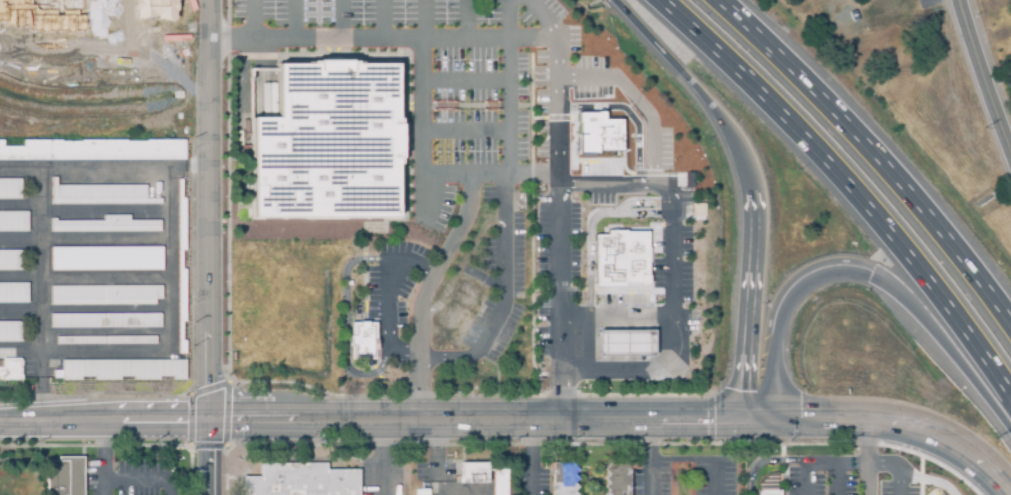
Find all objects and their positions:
road: (817, 2)
building: (154, 8)
building: (43, 14)
road: (249, 21)
road: (287, 21)
road: (340, 21)
road: (384, 22)
road: (422, 22)
road: (465, 22)
road: (511, 22)
road: (515, 43)
road: (405, 44)
road: (985, 74)
road: (468, 83)
road: (701, 90)
road: (636, 102)
road: (511, 107)
road: (466, 130)
building: (596, 132)
building: (325, 144)
parking lot: (518, 148)
building: (94, 151)
road: (876, 151)
road: (847, 186)
building: (11, 189)
building: (101, 195)
road: (83, 208)
building: (698, 209)
building: (14, 222)
building: (107, 226)
road: (557, 231)
road: (83, 239)
road: (166, 239)
road: (214, 247)
road: (672, 253)
building: (619, 256)
building: (110, 260)
building: (11, 261)
road: (806, 276)
road: (83, 278)
road: (505, 278)
road: (427, 291)
building: (14, 294)
road: (385, 294)
building: (106, 295)
road: (754, 309)
road: (82, 310)
building: (107, 321)
road: (345, 323)
building: (11, 332)
road: (948, 337)
building: (361, 340)
building: (107, 341)
building: (628, 343)
road: (19, 351)
building: (123, 370)
building: (11, 371)
road: (643, 374)
road: (773, 377)
road: (40, 386)
traffic signals: (750, 392)
road: (702, 419)
traffic signals: (706, 419)
road: (323, 420)
traffic signals: (799, 420)
road: (814, 420)
road: (948, 442)
road: (646, 456)
road: (382, 457)
road: (530, 457)
road: (94, 458)
road: (871, 459)
road: (697, 461)
road: (764, 461)
road: (838, 462)
road: (898, 467)
building: (474, 474)
building: (65, 476)
parking lot: (686, 478)
road: (805, 478)
road: (837, 478)
road: (139, 479)
parking lot: (531, 479)
building: (563, 479)
building: (616, 479)
road: (929, 480)
building: (302, 481)
building: (501, 483)
building: (769, 486)
building: (422, 492)

